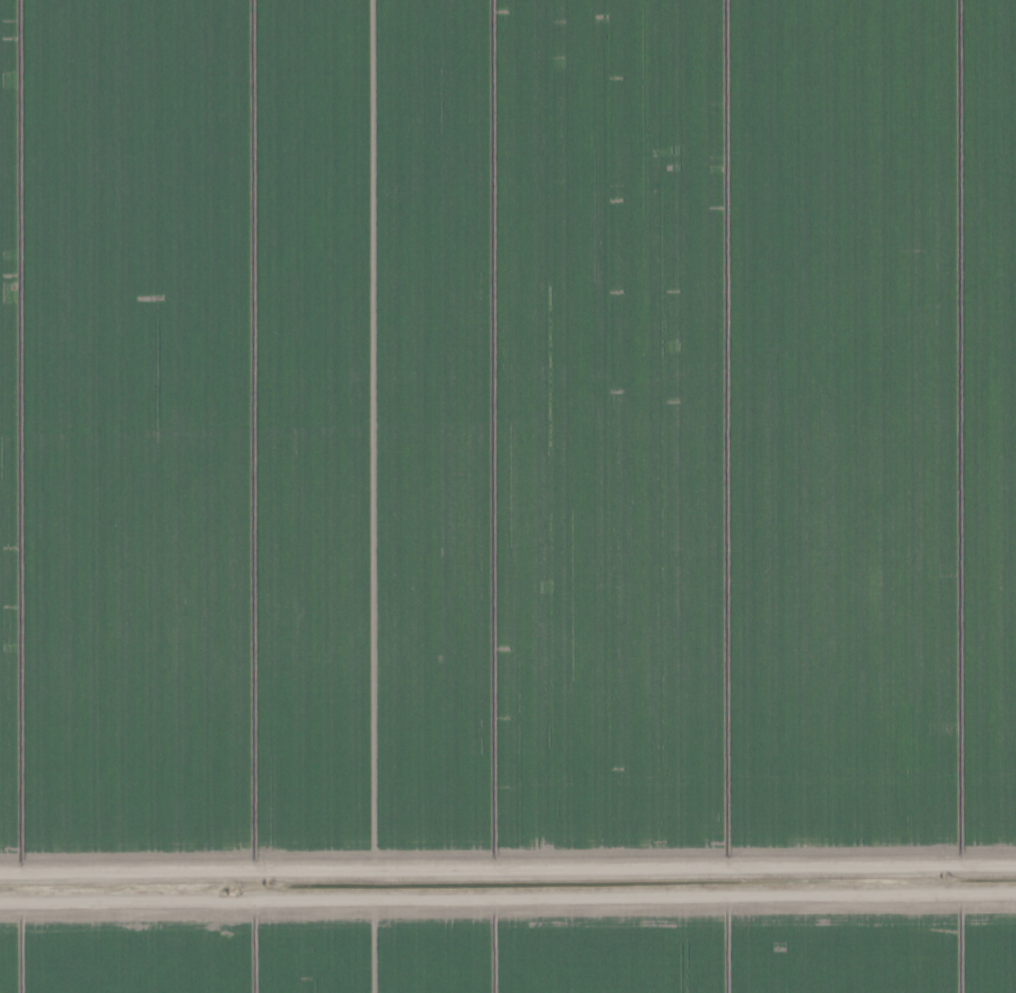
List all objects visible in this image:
crop: (508, 496)

